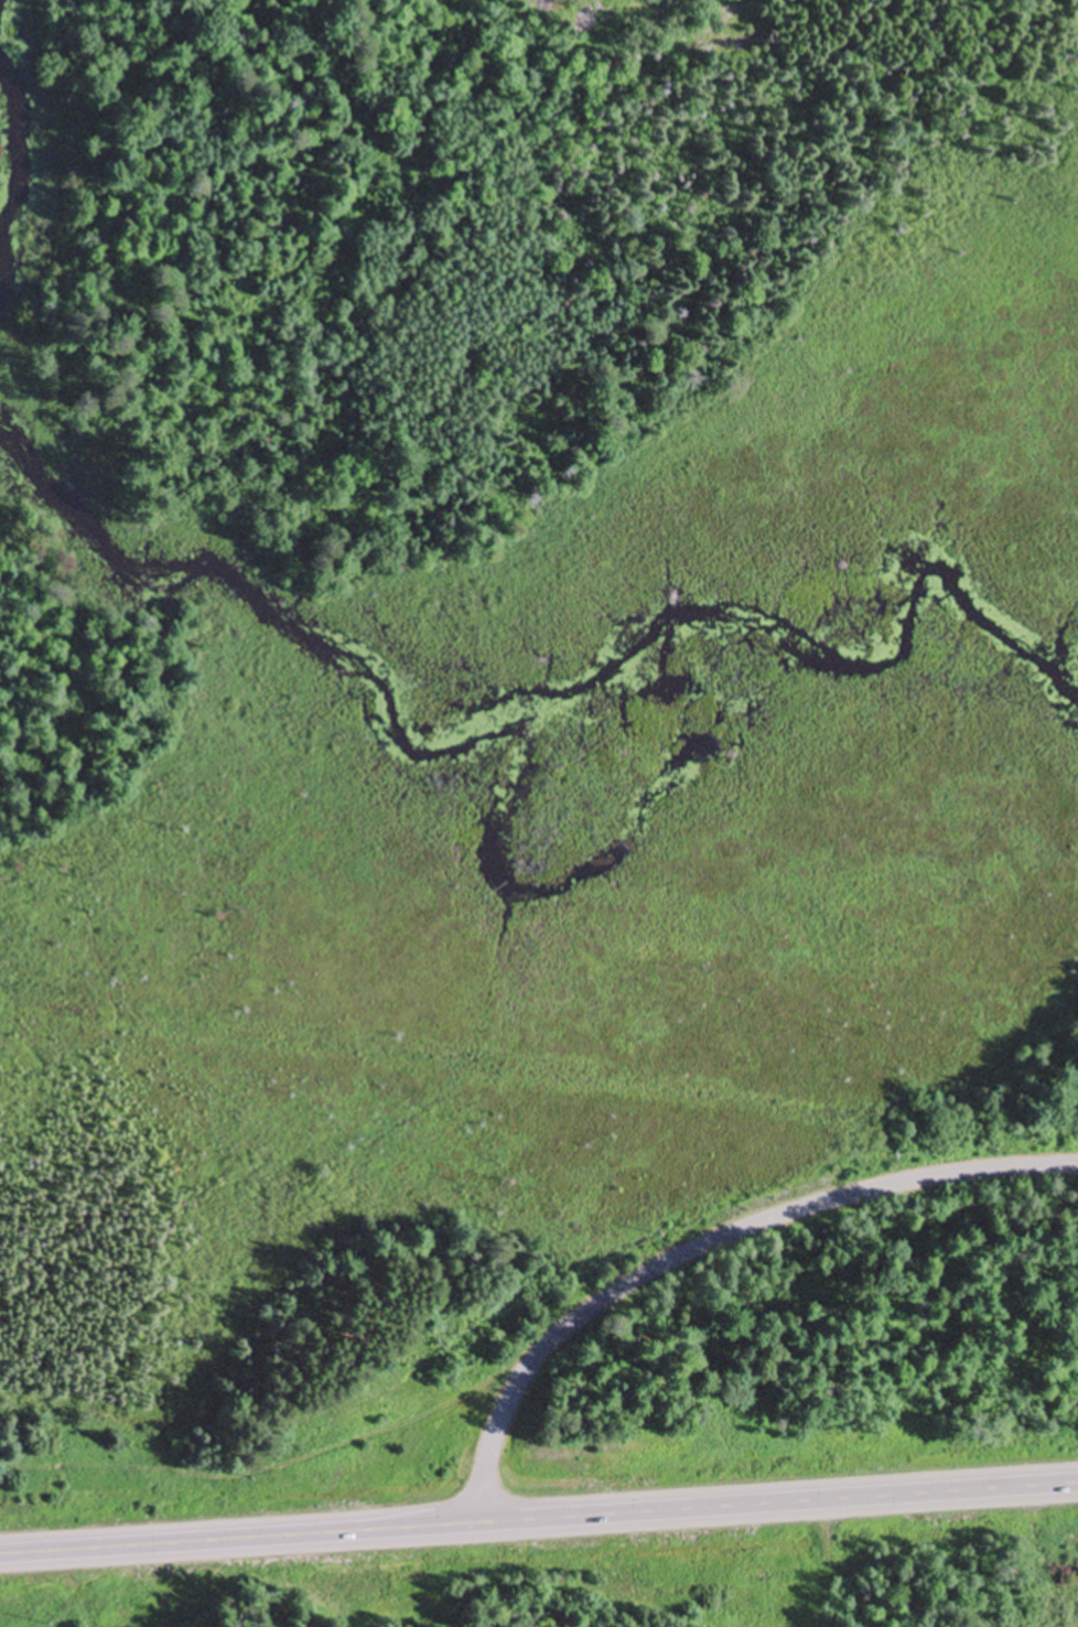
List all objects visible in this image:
road: (707, 1250)
road: (539, 1519)

